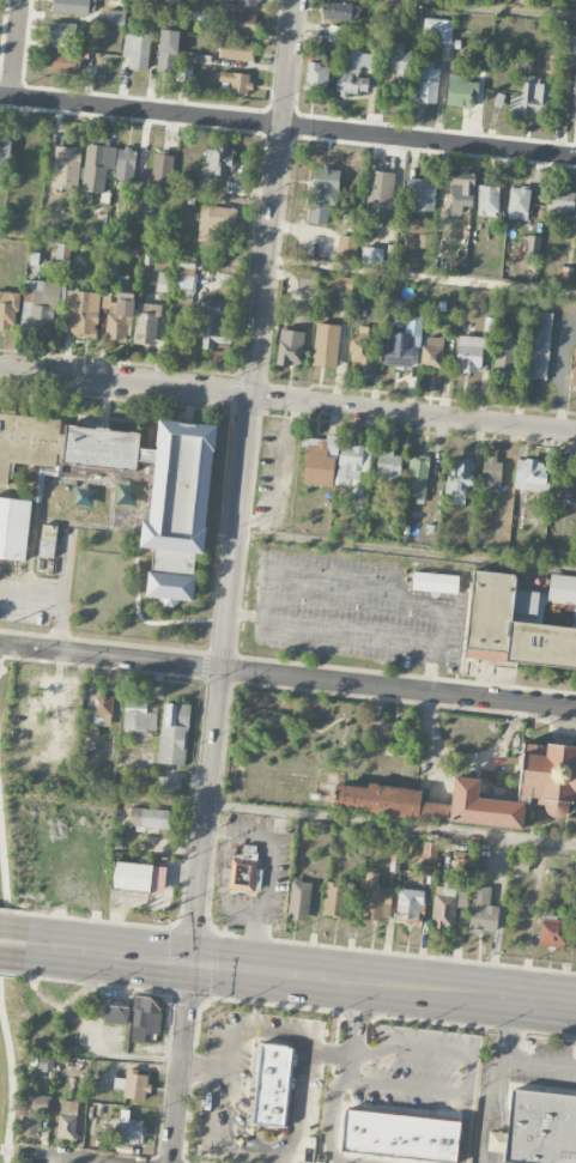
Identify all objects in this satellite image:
building: (248, 2)
building: (66, 6)
road: (483, 10)
building: (341, 11)
building: (115, 18)
building: (244, 23)
building: (438, 30)
building: (66, 34)
building: (334, 34)
park: (7, 42)
road: (14, 48)
building: (137, 49)
building: (168, 50)
building: (236, 50)
building: (480, 59)
building: (63, 61)
building: (399, 61)
building: (354, 73)
building: (316, 77)
building: (236, 81)
building: (428, 85)
building: (460, 91)
building: (529, 98)
building: (574, 99)
road: (287, 125)
building: (5, 151)
building: (217, 159)
building: (125, 164)
building: (97, 166)
building: (66, 168)
building: (162, 168)
building: (460, 189)
building: (323, 193)
building: (422, 194)
building: (380, 195)
building: (487, 201)
building: (519, 204)
building: (559, 204)
building: (214, 222)
building: (129, 230)
building: (532, 244)
building: (346, 247)
building: (62, 252)
building: (371, 255)
building: (116, 259)
building: (78, 266)
road: (422, 274)
building: (564, 275)
building: (184, 277)
building: (305, 279)
building: (163, 281)
building: (41, 307)
building: (8, 309)
building: (85, 315)
building: (119, 320)
building: (146, 323)
building: (212, 326)
road: (259, 333)
building: (402, 344)
building: (326, 345)
building: (362, 346)
building: (541, 346)
building: (290, 347)
building: (432, 352)
building: (468, 355)
building: (503, 356)
building: (574, 370)
road: (287, 399)
building: (26, 443)
building: (320, 461)
building: (352, 462)
building: (388, 467)
building: (491, 472)
building: (530, 476)
building: (417, 477)
building: (459, 480)
building: (159, 493)
building: (564, 493)
building: (14, 528)
building: (48, 541)
road: (406, 552)
building: (436, 583)
building: (563, 587)
road: (61, 596)
road: (267, 596)
road: (30, 602)
road: (247, 616)
parking lot: (338, 617)
building: (513, 625)
road: (110, 656)
road: (20, 658)
road: (1, 670)
road: (398, 687)
building: (102, 710)
building: (140, 716)
building: (383, 732)
building: (174, 734)
road: (463, 761)
building: (166, 785)
building: (522, 788)
building: (380, 799)
road: (292, 814)
building: (148, 818)
road: (235, 840)
building: (428, 859)
building: (520, 862)
building: (463, 866)
building: (242, 871)
building: (138, 878)
road: (2, 885)
building: (336, 898)
building: (299, 899)
building: (375, 899)
road: (267, 903)
building: (445, 905)
building: (410, 907)
building: (483, 911)
road: (196, 915)
building: (552, 932)
road: (13, 945)
traffic signals: (193, 962)
road: (302, 974)
building: (116, 1014)
building: (145, 1018)
road: (329, 1053)
building: (42, 1064)
road: (205, 1065)
road: (540, 1065)
road: (346, 1073)
road: (468, 1077)
road: (496, 1079)
building: (132, 1085)
building: (272, 1085)
road: (11, 1088)
building: (32, 1114)
building: (67, 1120)
road: (219, 1126)
road: (466, 1128)
building: (128, 1129)
building: (538, 1129)
building: (400, 1137)
road: (56, 1158)
road: (286, 1161)

